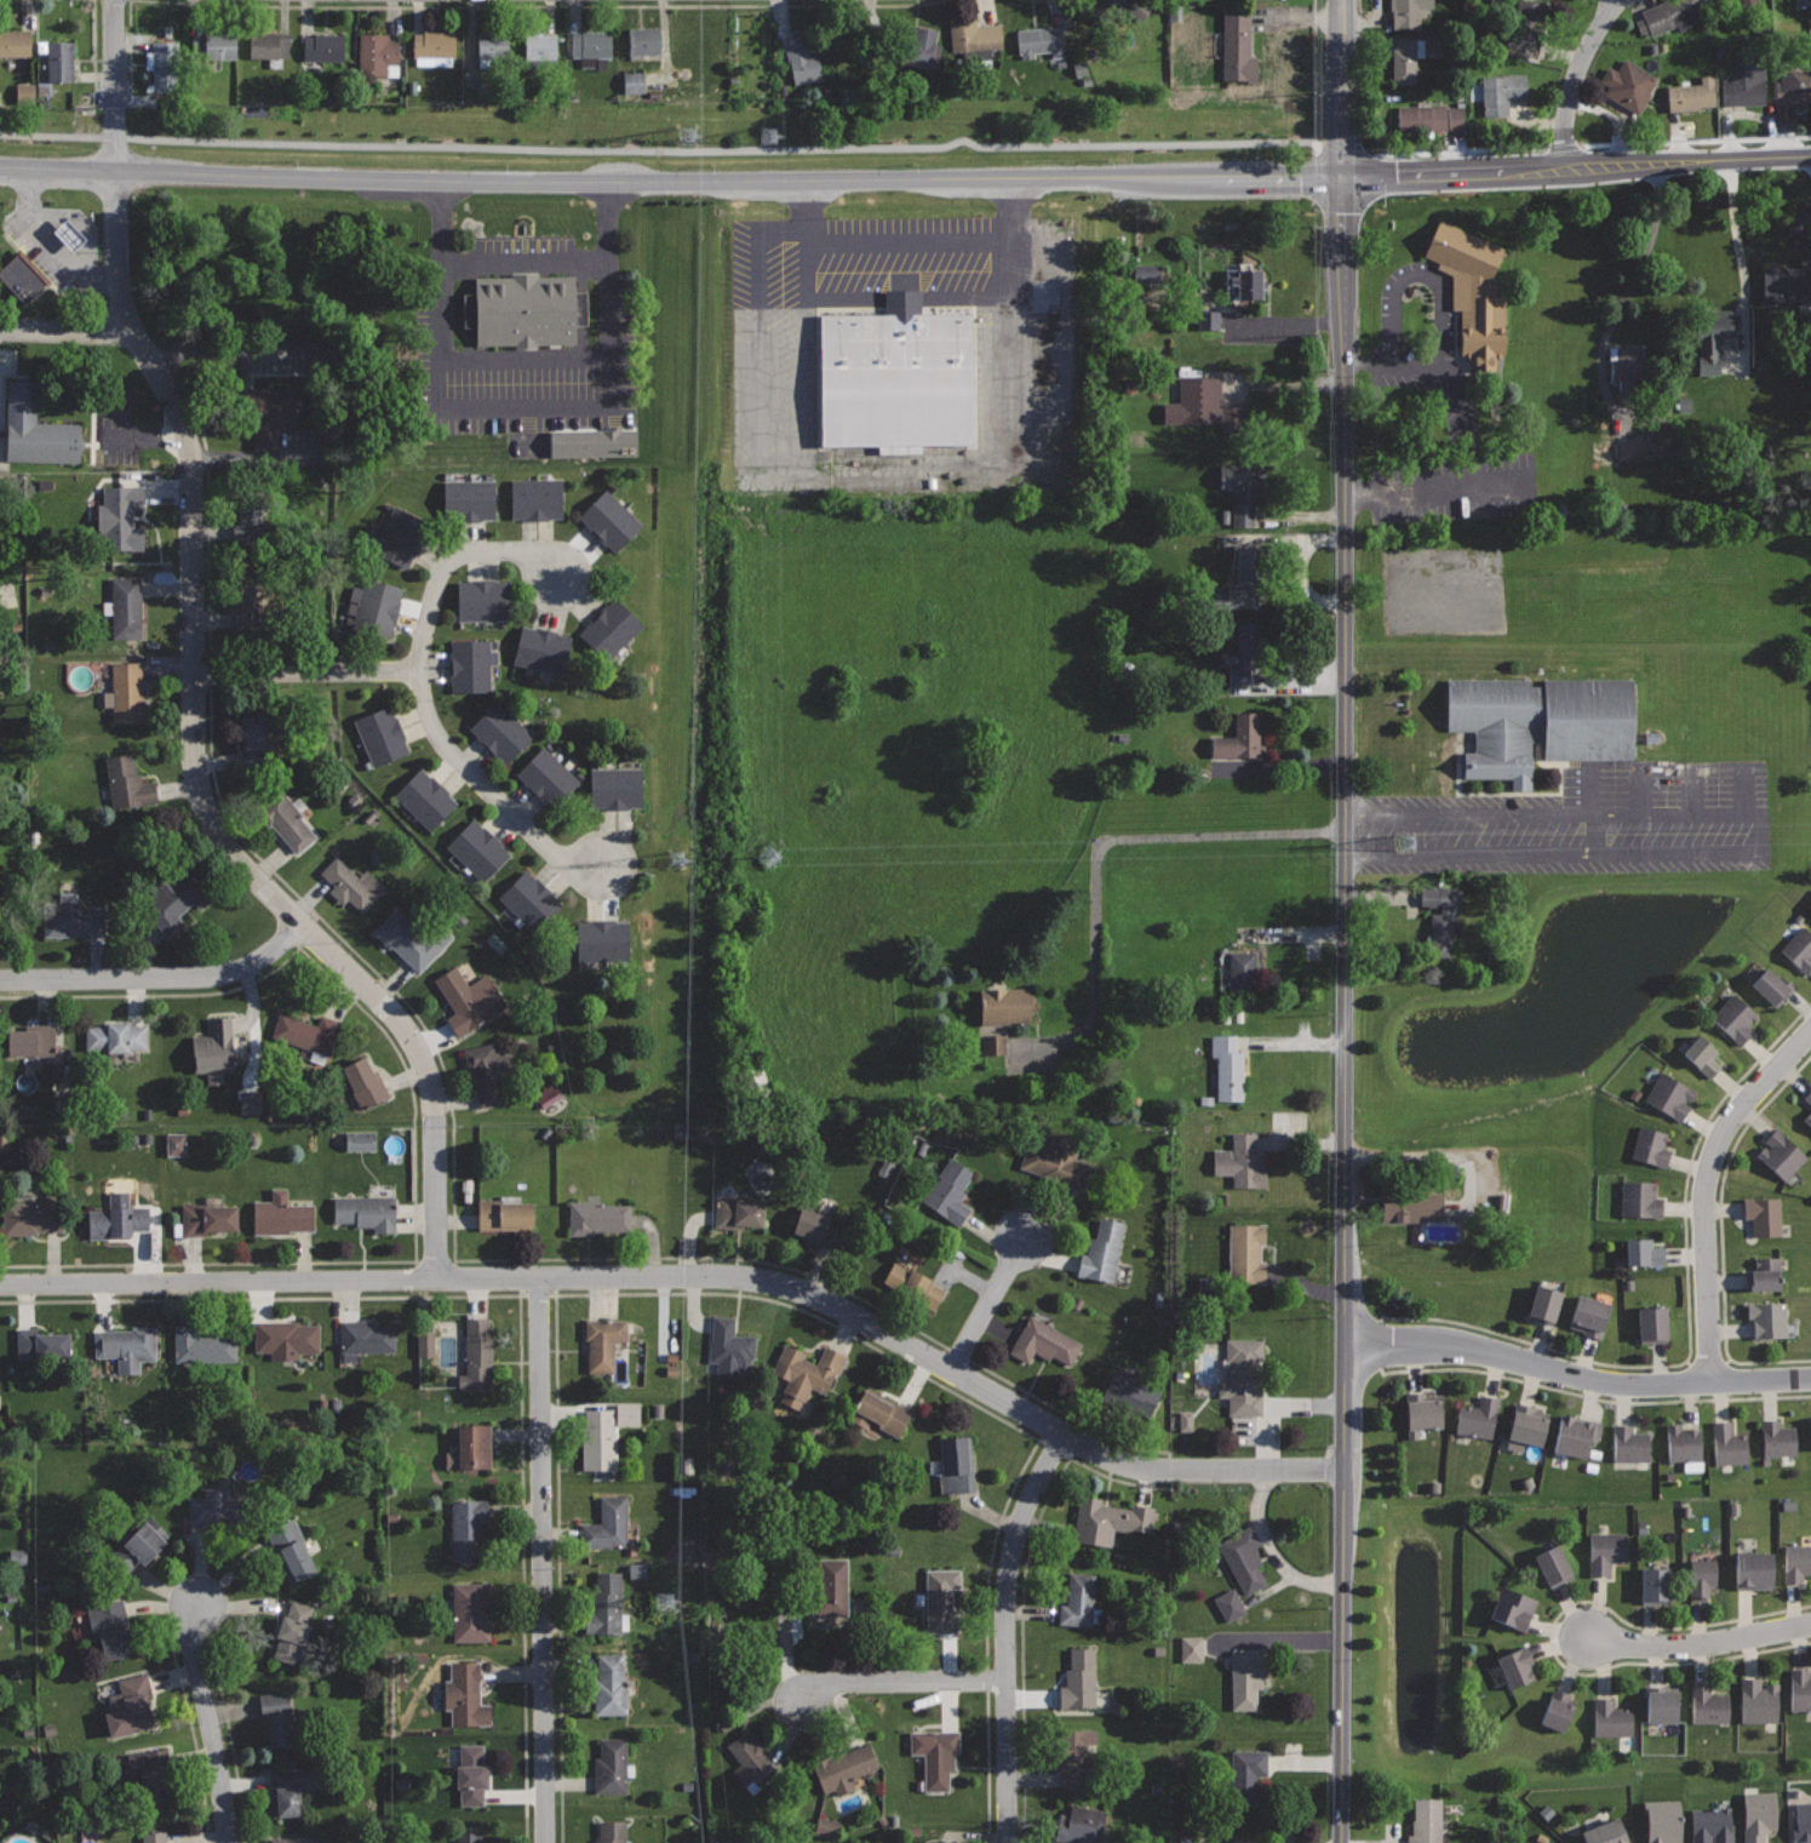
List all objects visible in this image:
building: (1749, 1)
building: (1803, 1)
road: (543, 6)
building: (1105, 8)
building: (1408, 11)
building: (1668, 13)
building: (1528, 28)
building: (974, 34)
building: (644, 40)
building: (15, 41)
building: (1041, 41)
building: (1233, 42)
road: (92, 44)
building: (214, 45)
building: (270, 45)
building: (323, 46)
building: (434, 46)
building: (540, 46)
building: (592, 46)
building: (922, 48)
building: (493, 50)
road: (128, 52)
building: (378, 53)
building: (803, 58)
building: (1405, 58)
building: (61, 61)
road: (1313, 70)
building: (167, 75)
road: (1576, 78)
building: (630, 82)
building: (1744, 82)
building: (1627, 85)
building: (1794, 85)
building: (1502, 92)
building: (22, 93)
building: (1692, 93)
building: (1431, 116)
power tower: (763, 136)
power tower: (686, 138)
road: (672, 149)
road: (905, 181)
building: (64, 235)
road: (905, 236)
road: (1738, 250)
road: (527, 262)
building: (1142, 273)
building: (22, 275)
building: (1244, 281)
building: (1787, 286)
building: (1472, 292)
building: (525, 309)
building: (464, 310)
road: (1433, 316)
building: (1205, 320)
road: (64, 328)
parking lot: (522, 332)
building: (1710, 339)
parking lot: (904, 351)
road: (527, 354)
road: (1369, 360)
building: (1626, 366)
building: (896, 374)
parking lot: (1420, 394)
building: (1197, 401)
road: (528, 410)
building: (274, 411)
building: (38, 430)
building: (1136, 439)
building: (589, 442)
road: (906, 471)
road: (1439, 487)
building: (1243, 488)
building: (535, 498)
building: (470, 499)
road: (207, 516)
building: (120, 517)
building: (250, 517)
building: (611, 520)
building: (400, 537)
road: (453, 560)
building: (1245, 579)
building: (483, 600)
building: (250, 605)
building: (127, 606)
building: (374, 608)
building: (611, 630)
building: (541, 649)
building: (1245, 649)
building: (471, 665)
road: (306, 671)
road: (194, 674)
building: (128, 693)
building: (1541, 721)
building: (503, 728)
building: (382, 734)
building: (1240, 738)
building: (256, 743)
building: (550, 775)
building: (127, 788)
road: (489, 788)
building: (617, 789)
building: (425, 799)
building: (287, 820)
parking lot: (1582, 820)
road: (1754, 836)
power tower: (1406, 838)
building: (478, 848)
road: (1100, 848)
power tower: (762, 854)
power tower: (677, 858)
building: (350, 882)
building: (177, 897)
building: (532, 902)
building: (1810, 904)
building: (73, 916)
building: (1440, 916)
road: (1345, 921)
building: (413, 935)
building: (604, 941)
building: (1799, 949)
building: (1243, 972)
road: (159, 975)
building: (1772, 986)
building: (469, 998)
building: (1007, 1005)
building: (1735, 1017)
building: (306, 1031)
building: (115, 1036)
building: (31, 1040)
building: (991, 1043)
building: (216, 1049)
building: (1702, 1054)
building: (1228, 1066)
building: (487, 1071)
building: (363, 1081)
building: (544, 1095)
building: (1669, 1095)
building: (1809, 1097)
building: (246, 1101)
building: (1807, 1117)
road: (413, 1137)
building: (356, 1140)
building: (172, 1143)
building: (1651, 1146)
building: (1781, 1155)
building: (1240, 1161)
building: (1056, 1162)
road: (453, 1186)
road: (1707, 1189)
building: (949, 1191)
building: (1640, 1200)
building: (1409, 1203)
building: (367, 1210)
building: (737, 1212)
building: (280, 1213)
building: (505, 1213)
building: (33, 1215)
building: (207, 1215)
building: (1764, 1215)
building: (597, 1217)
building: (116, 1219)
building: (818, 1229)
road: (1719, 1232)
building: (1102, 1250)
building: (1247, 1252)
building: (1643, 1252)
building: (1764, 1273)
road: (695, 1277)
building: (913, 1284)
road: (658, 1293)
road: (259, 1297)
road: (988, 1303)
building: (1544, 1305)
building: (1589, 1315)
road: (1687, 1317)
building: (1767, 1318)
building: (1652, 1324)
building: (286, 1337)
building: (365, 1338)
building: (603, 1341)
building: (1044, 1341)
building: (40, 1343)
building: (422, 1343)
building: (201, 1344)
building: (126, 1345)
building: (730, 1347)
road: (957, 1352)
building: (477, 1355)
building: (804, 1374)
road: (1576, 1374)
building: (1243, 1376)
building: (1128, 1395)
road: (1592, 1397)
building: (881, 1410)
road: (1065, 1410)
building: (1422, 1412)
building: (624, 1413)
building: (1478, 1416)
building: (1184, 1420)
building: (1528, 1424)
building: (1810, 1429)
building: (1575, 1435)
building: (1777, 1438)
building: (597, 1440)
building: (1631, 1443)
building: (1684, 1443)
building: (1727, 1443)
building: (474, 1444)
road: (1051, 1448)
building: (956, 1466)
road: (1167, 1469)
building: (220, 1507)
building: (1107, 1519)
building: (607, 1524)
building: (469, 1526)
building: (137, 1545)
building: (290, 1546)
building: (1606, 1551)
building: (1244, 1558)
road: (543, 1561)
building: (1796, 1562)
building: (1553, 1566)
road: (521, 1568)
building: (1755, 1570)
building: (1701, 1578)
building: (1656, 1585)
building: (831, 1589)
road: (1021, 1592)
power tower: (669, 1599)
building: (1078, 1599)
building: (941, 1602)
building: (607, 1604)
building: (1226, 1604)
building: (1513, 1608)
building: (470, 1610)
building: (110, 1626)
building: (291, 1631)
road: (1005, 1632)
road: (1549, 1635)
road: (1277, 1641)
road: (1700, 1642)
building: (1188, 1648)
building: (1515, 1666)
building: (1248, 1676)
building: (1079, 1679)
road: (900, 1682)
building: (612, 1684)
building: (1800, 1689)
building: (465, 1694)
building: (1759, 1701)
building: (1662, 1704)
building: (130, 1705)
building: (1709, 1705)
building: (1557, 1710)
building: (277, 1717)
building: (1611, 1718)
road: (208, 1722)
road: (190, 1729)
road: (228, 1740)
building: (1074, 1757)
building: (939, 1758)
building: (750, 1761)
building: (612, 1765)
building: (843, 1768)
road: (985, 1768)
building: (151, 1773)
building: (470, 1773)
building: (1248, 1775)
building: (291, 1786)
building: (1756, 1815)
building: (1427, 1821)
building: (1660, 1821)
building: (1801, 1824)
building: (1084, 1825)
building: (1709, 1825)
building: (823, 1827)
building: (612, 1831)
building: (1606, 1832)
building: (469, 1833)
building: (155, 1836)
building: (296, 1838)
building: (1244, 1841)
building: (935, 1842)

